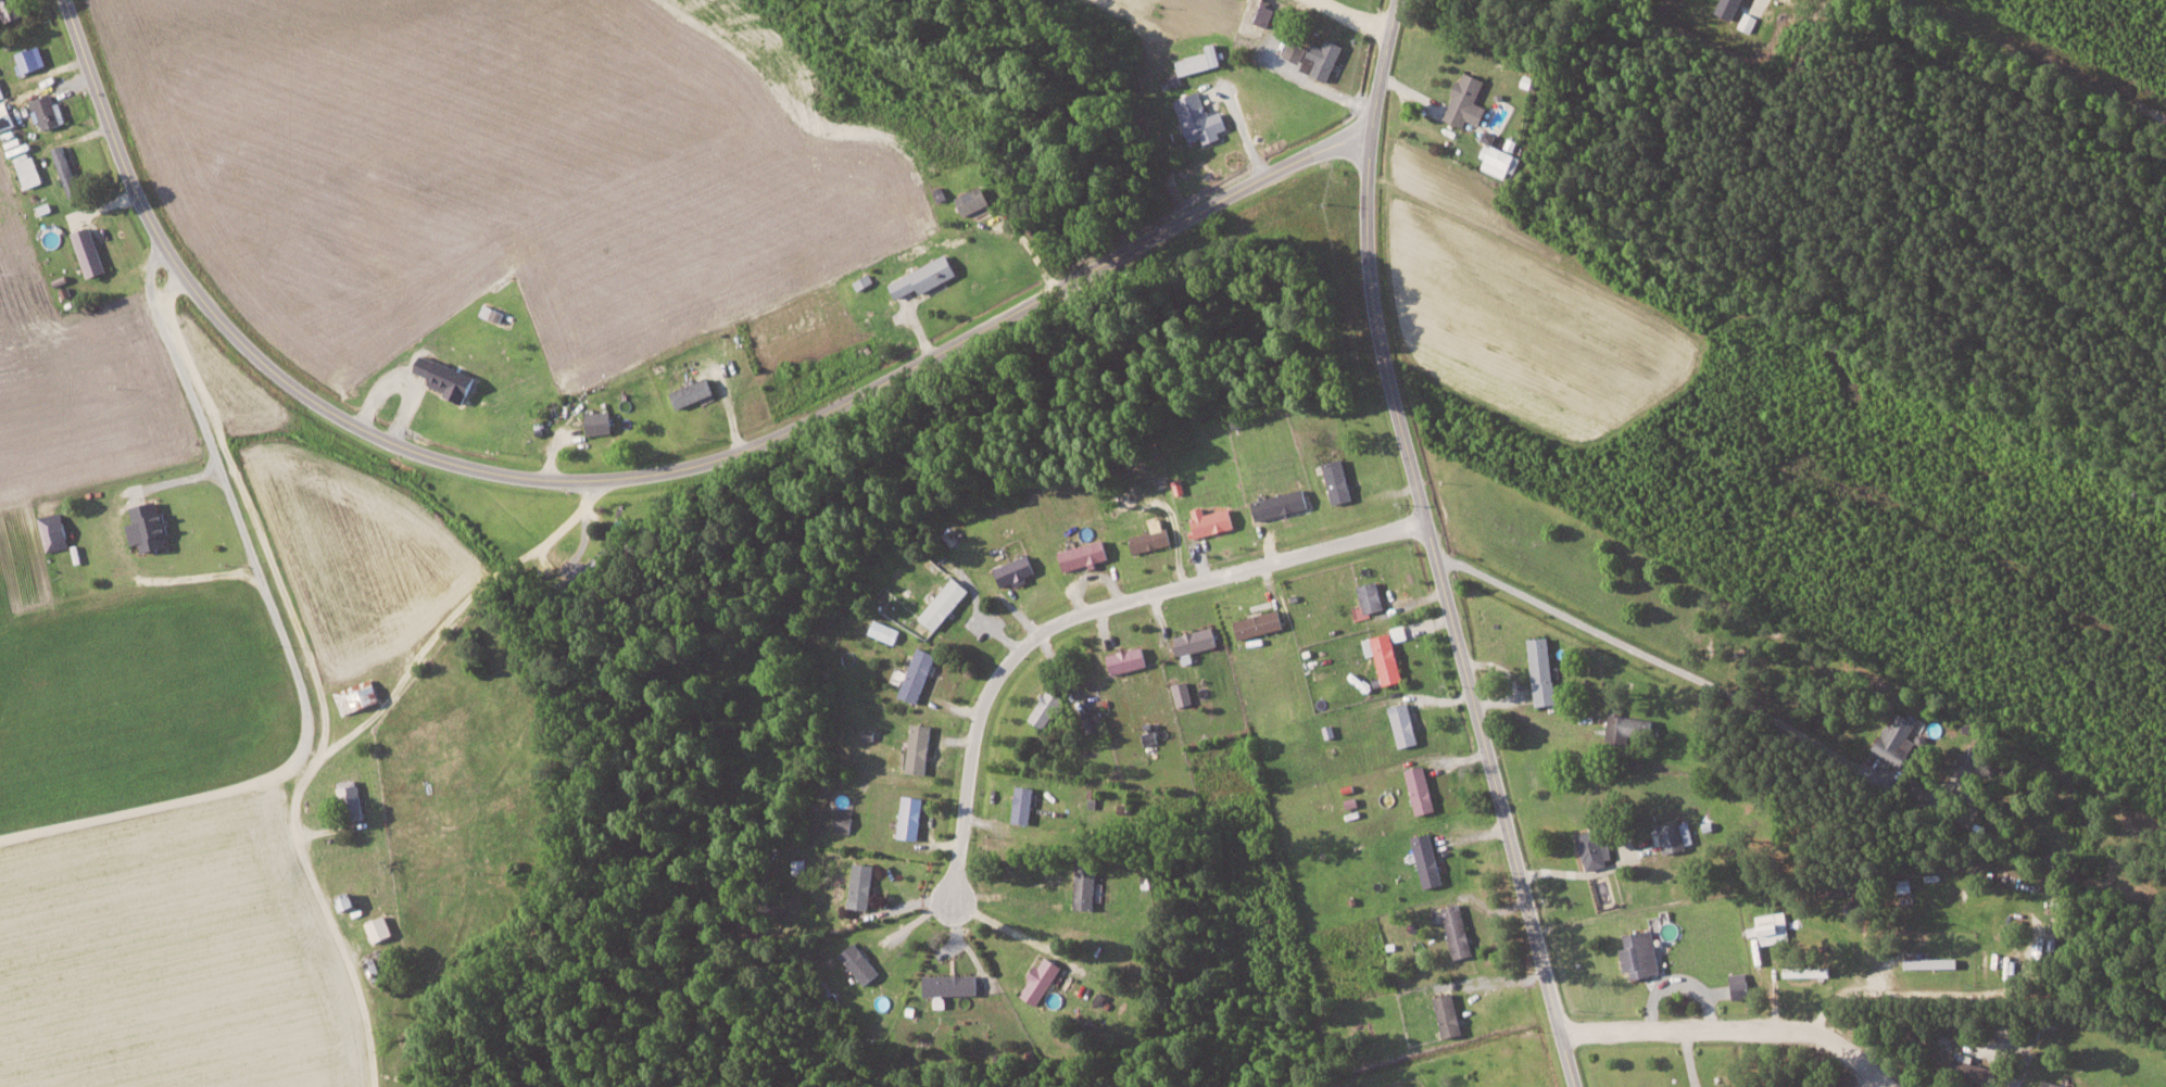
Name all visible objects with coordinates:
building: (1730, 8)
building: (7, 10)
building: (1267, 15)
building: (1296, 51)
building: (1324, 58)
building: (30, 59)
building: (1, 91)
building: (1468, 100)
building: (48, 111)
building: (1200, 117)
building: (1498, 160)
building: (65, 166)
building: (28, 168)
building: (974, 200)
building: (89, 251)
building: (925, 277)
building: (493, 313)
building: (448, 377)
building: (694, 392)
building: (601, 421)
road: (637, 473)
building: (1338, 480)
building: (1283, 504)
building: (1213, 520)
building: (150, 527)
building: (54, 531)
building: (1151, 540)
road: (1432, 546)
building: (1085, 555)
building: (1016, 570)
building: (1372, 596)
building: (945, 603)
road: (1088, 609)
building: (1260, 623)
building: (885, 631)
building: (1399, 632)
building: (1196, 643)
road: (287, 655)
building: (1385, 656)
building: (1129, 659)
road: (1659, 660)
building: (1544, 670)
building: (919, 674)
building: (1183, 694)
building: (357, 696)
building: (1048, 707)
building: (1405, 724)
building: (1626, 728)
building: (1899, 738)
road: (337, 743)
building: (920, 748)
building: (1976, 760)
building: (1422, 789)
building: (351, 799)
building: (1023, 804)
building: (911, 817)
building: (845, 820)
building: (1677, 835)
building: (1596, 849)
building: (1428, 860)
building: (799, 865)
building: (1086, 883)
building: (862, 885)
building: (1863, 903)
building: (1772, 927)
building: (379, 928)
building: (1458, 931)
building: (1641, 955)
building: (861, 963)
building: (1808, 971)
building: (1042, 981)
building: (953, 985)
building: (1741, 985)
building: (1449, 1014)
road: (1734, 1023)
road: (1689, 1057)
building: (1974, 1070)
building: (2056, 1085)

